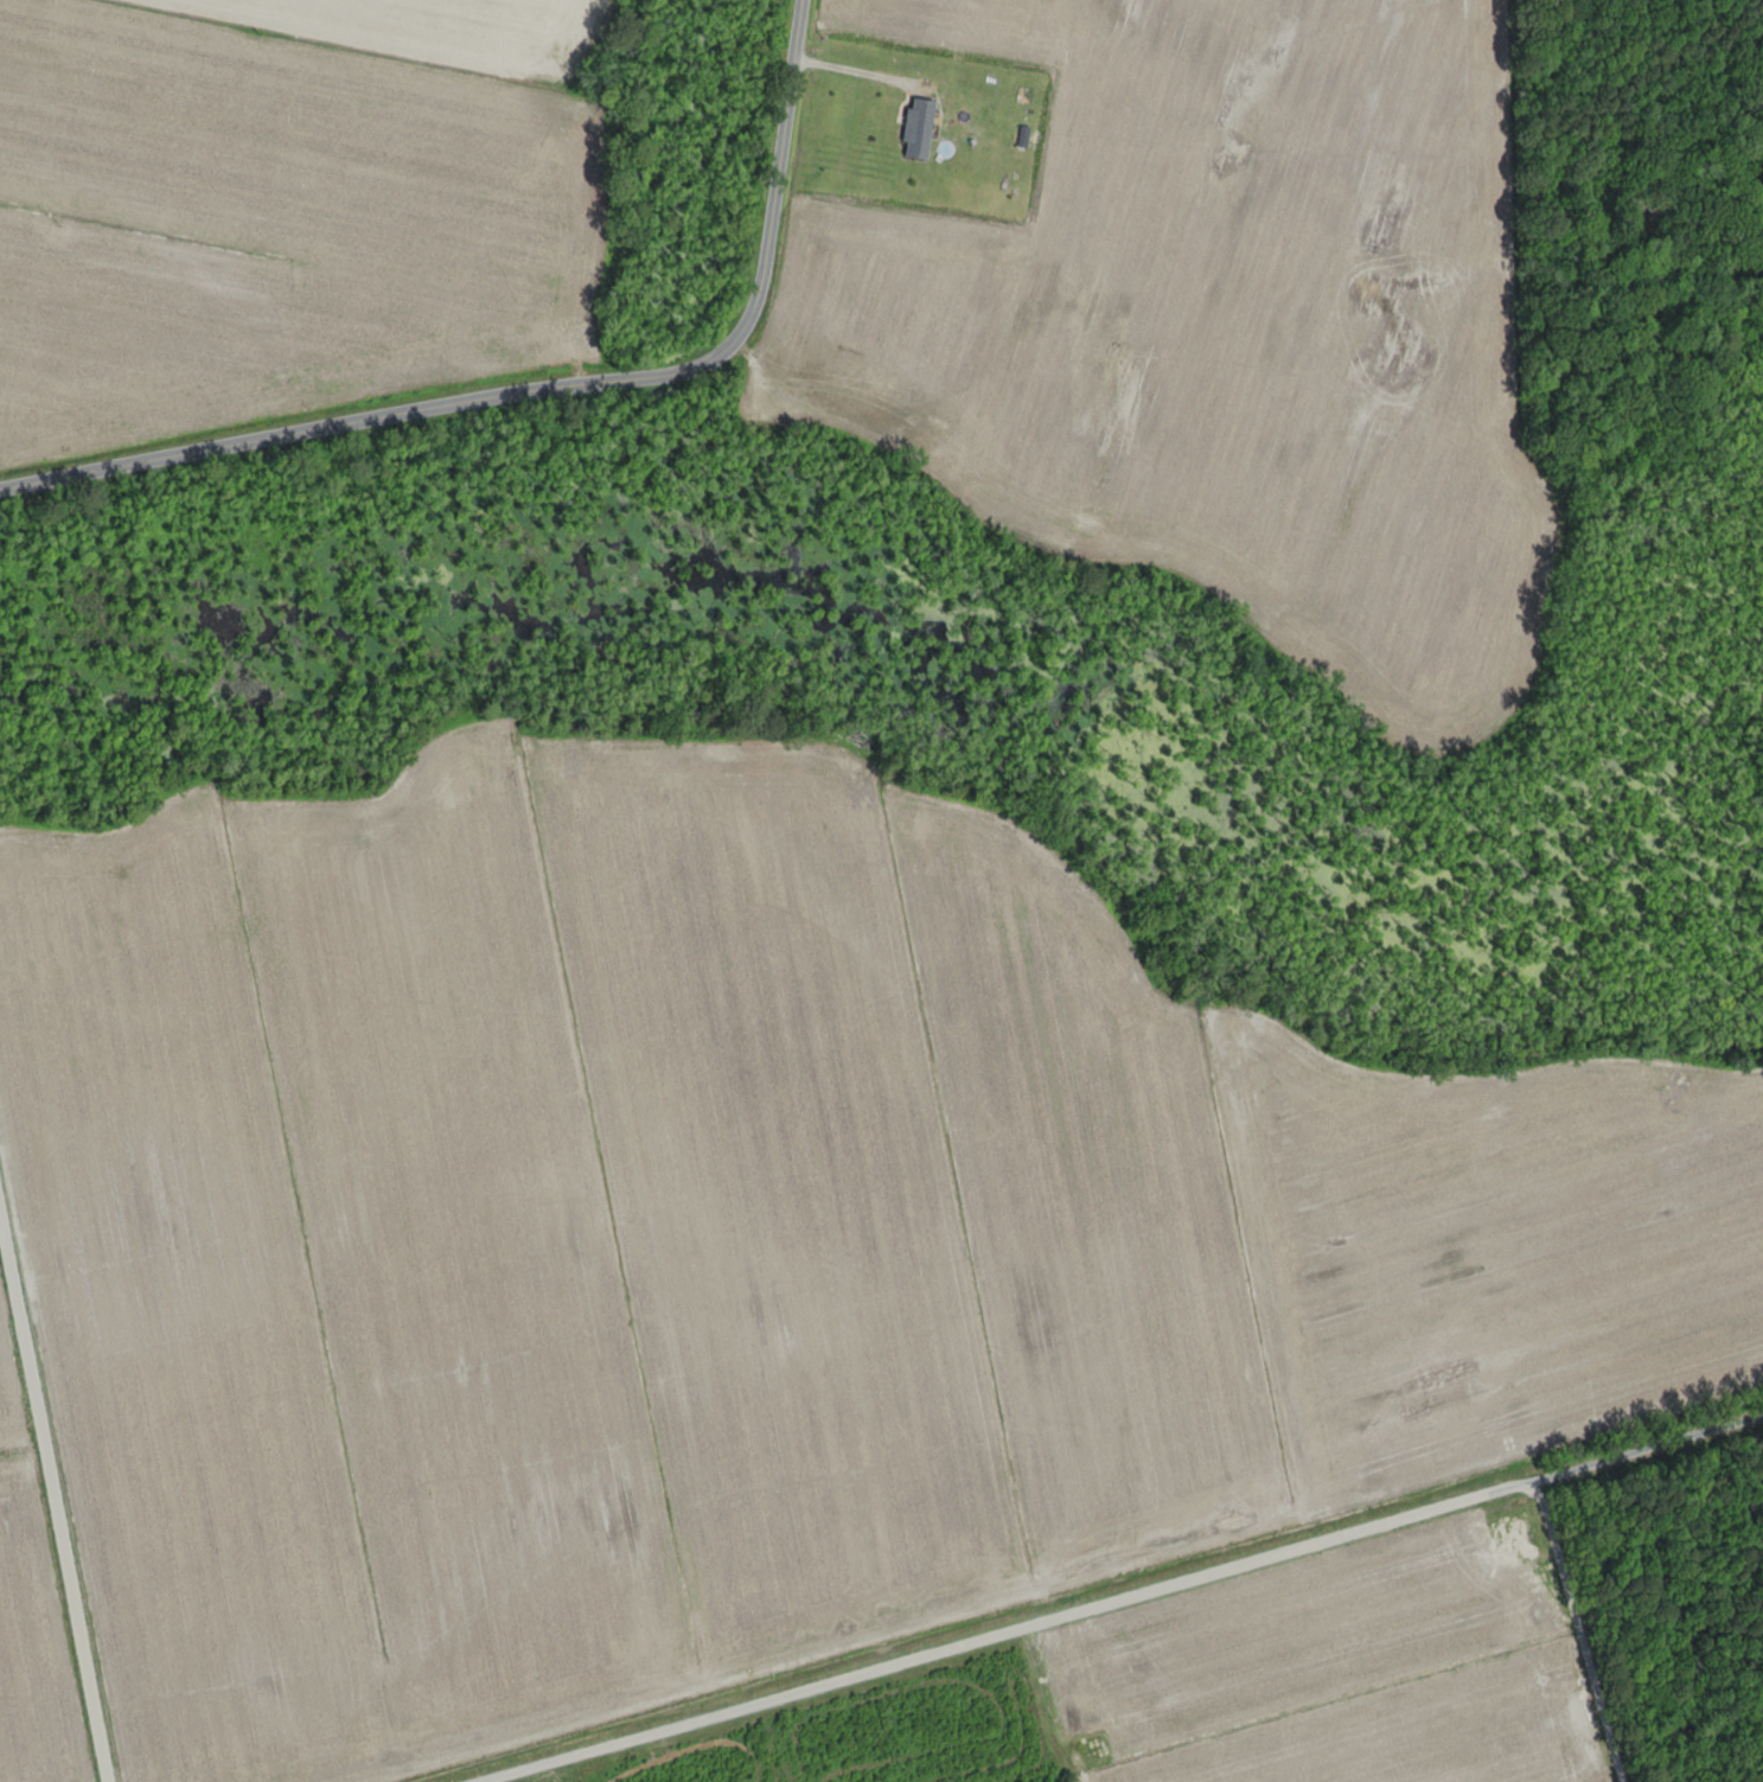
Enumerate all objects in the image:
road: (845, 71)
building: (888, 123)
road: (538, 398)
road: (1647, 1449)
road: (47, 1537)
road: (1156, 1589)

